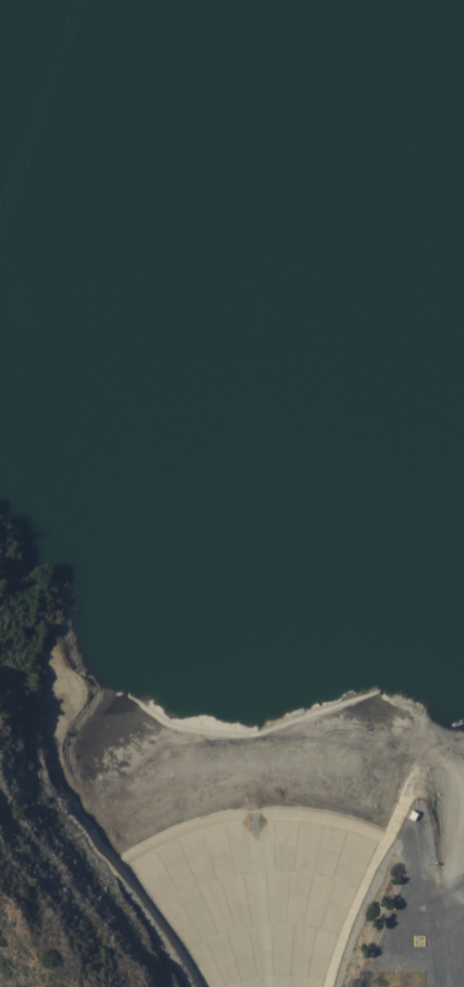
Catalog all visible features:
river: (454, 3)
river: (188, 307)
dam: (259, 800)
river: (255, 810)
road: (455, 893)

